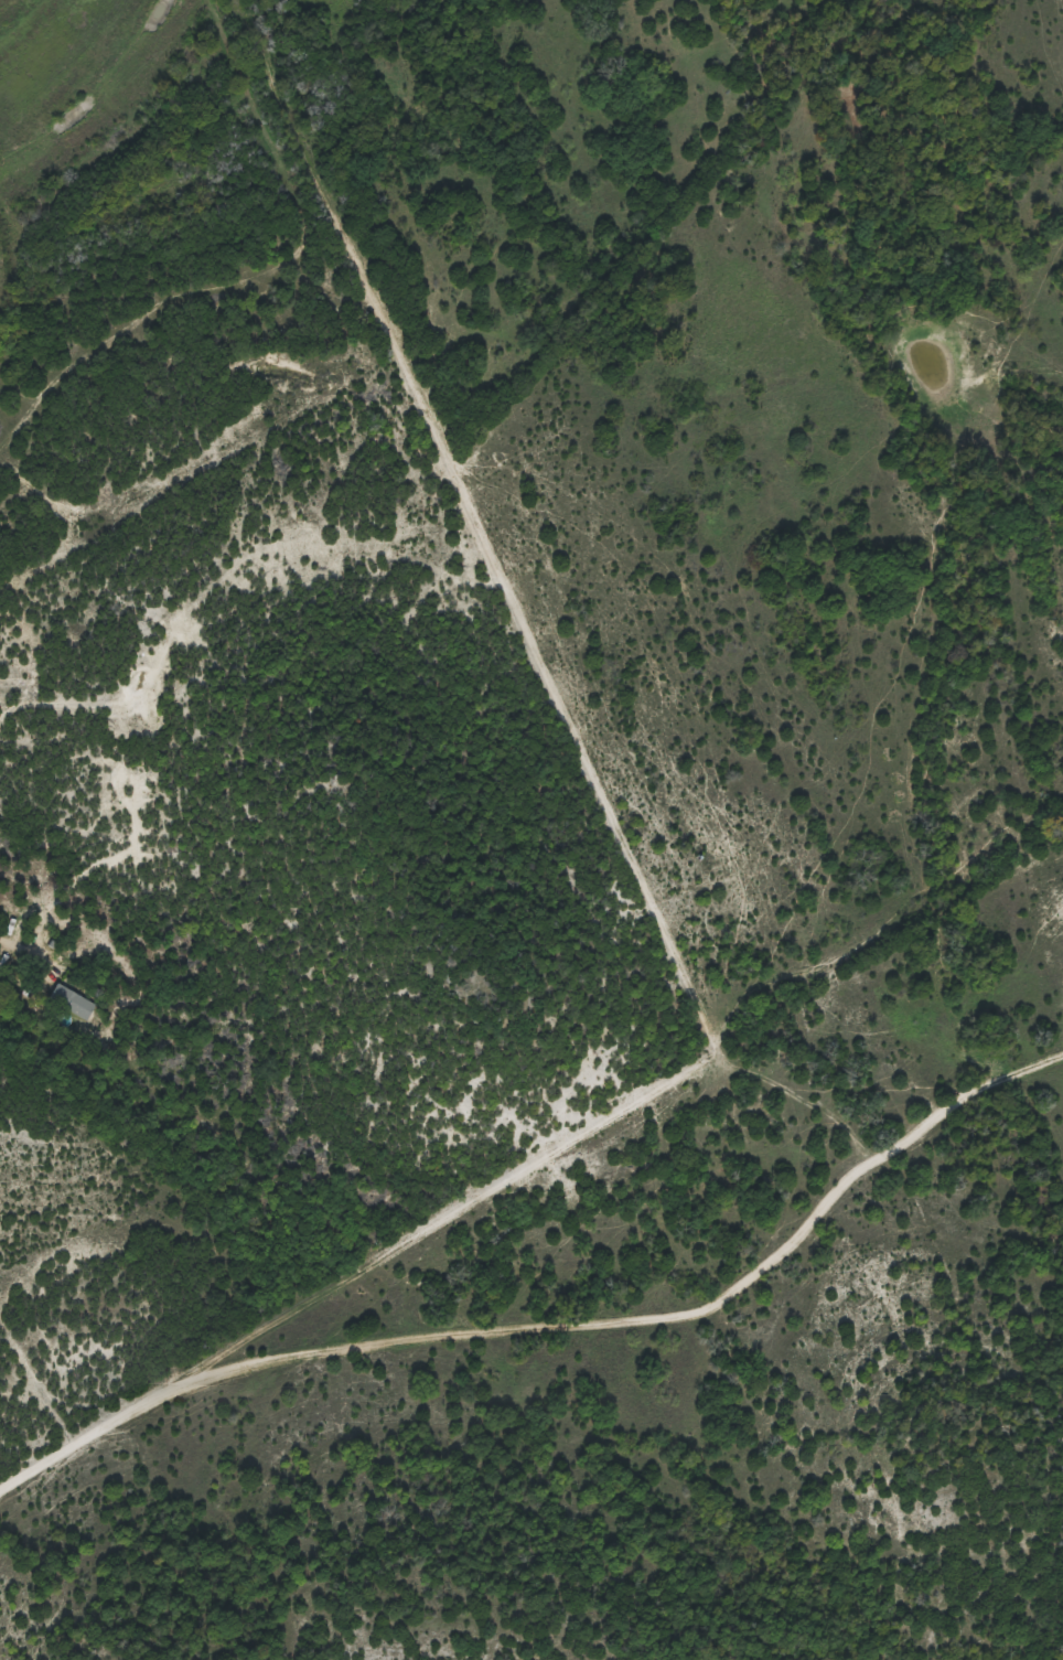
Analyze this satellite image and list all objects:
building: (73, 1002)
road: (558, 1360)

